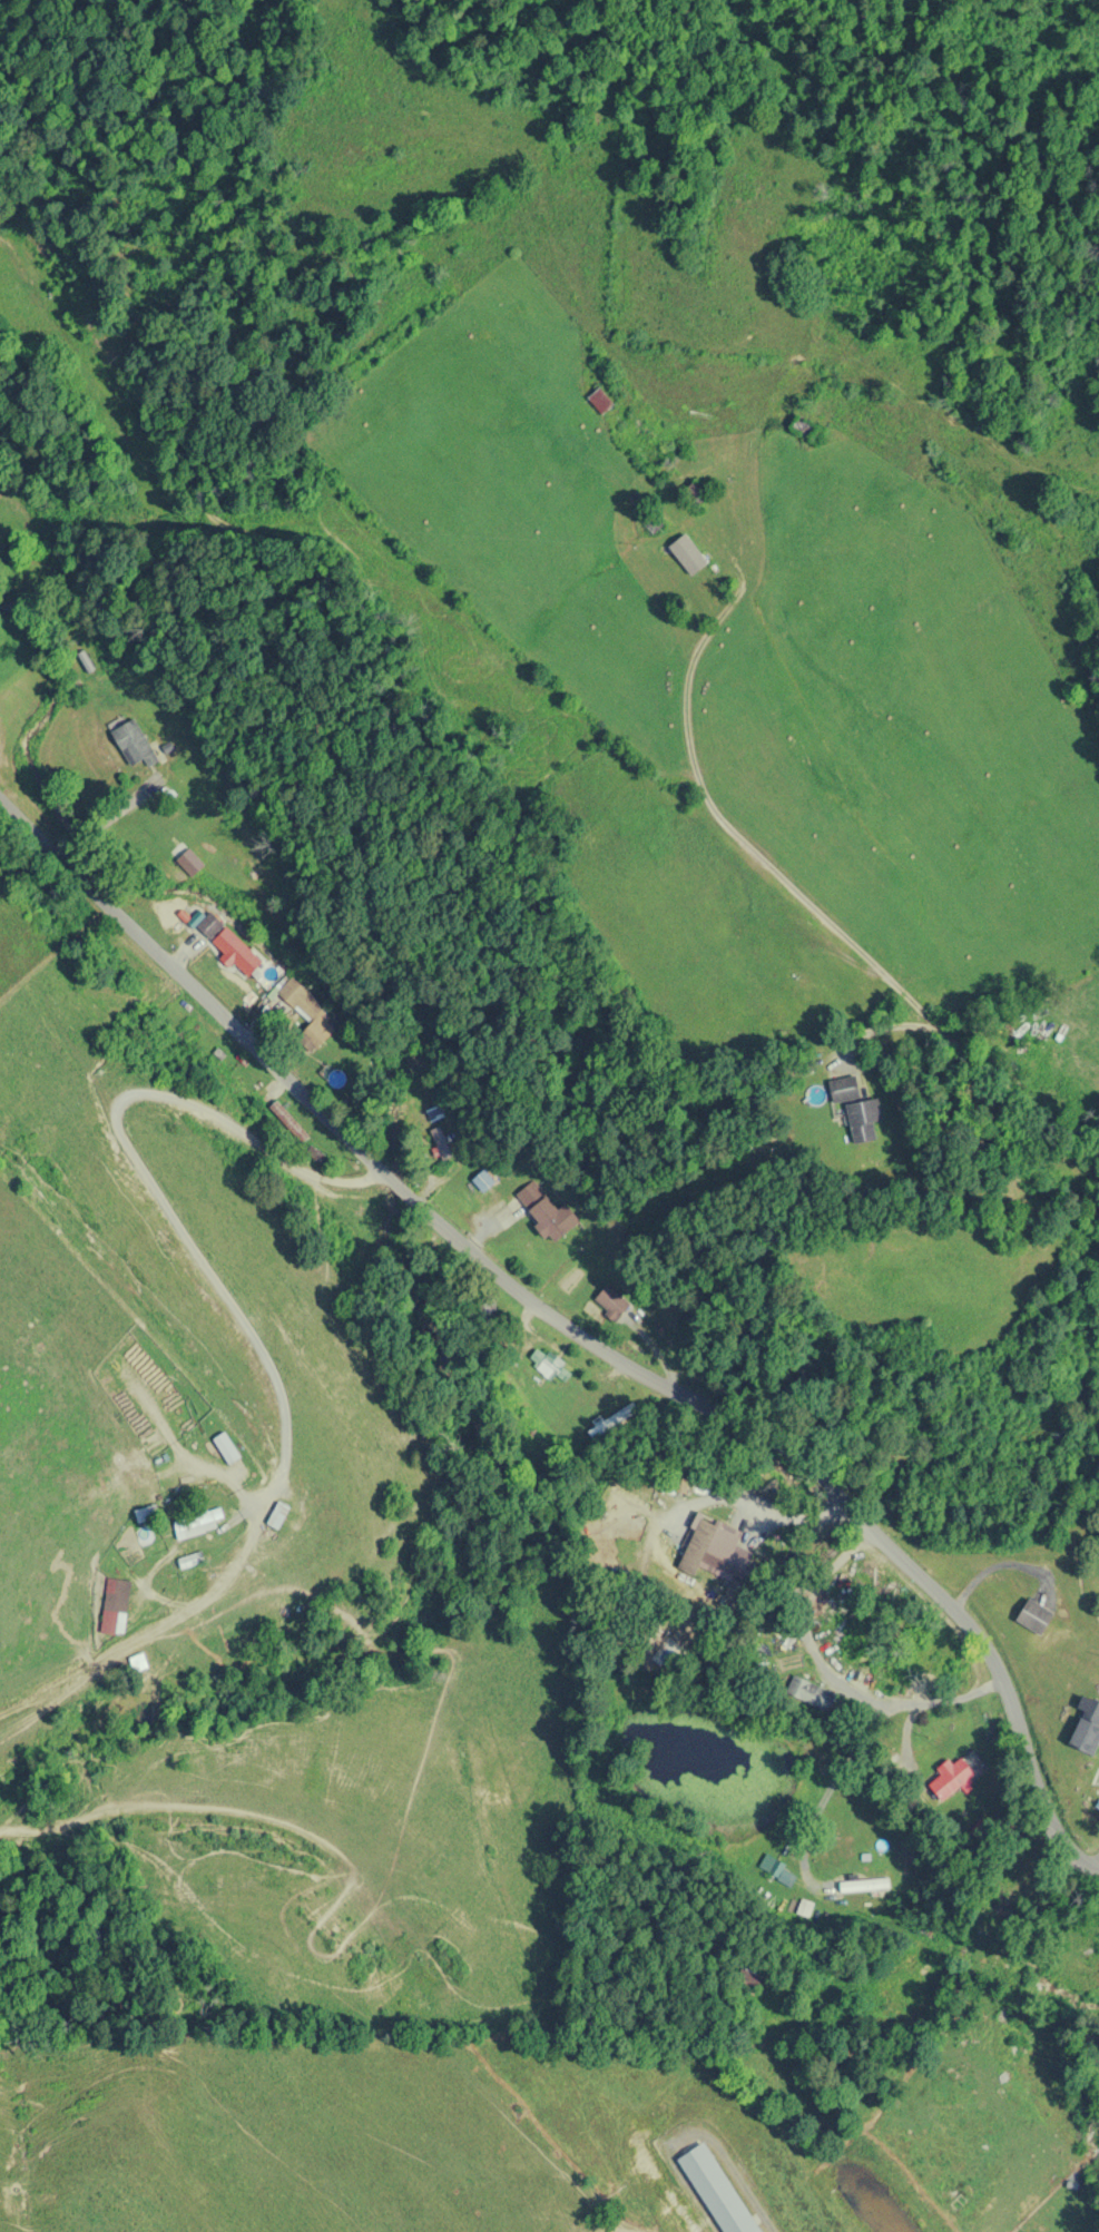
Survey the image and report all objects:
building: (599, 401)
building: (799, 425)
building: (691, 491)
building: (648, 515)
building: (686, 554)
road: (680, 592)
building: (133, 739)
road: (884, 832)
building: (189, 861)
building: (229, 941)
building: (304, 1009)
building: (855, 1109)
building: (433, 1114)
building: (287, 1120)
building: (541, 1210)
building: (610, 1301)
road: (571, 1327)
building: (549, 1366)
building: (226, 1446)
building: (278, 1513)
building: (196, 1522)
building: (707, 1551)
road: (761, 1560)
building: (115, 1602)
building: (1032, 1616)
road: (830, 1670)
building: (806, 1691)
building: (1088, 1715)
road: (904, 1736)
building: (950, 1778)
building: (747, 1980)
building: (716, 2190)
building: (1026, 2231)

